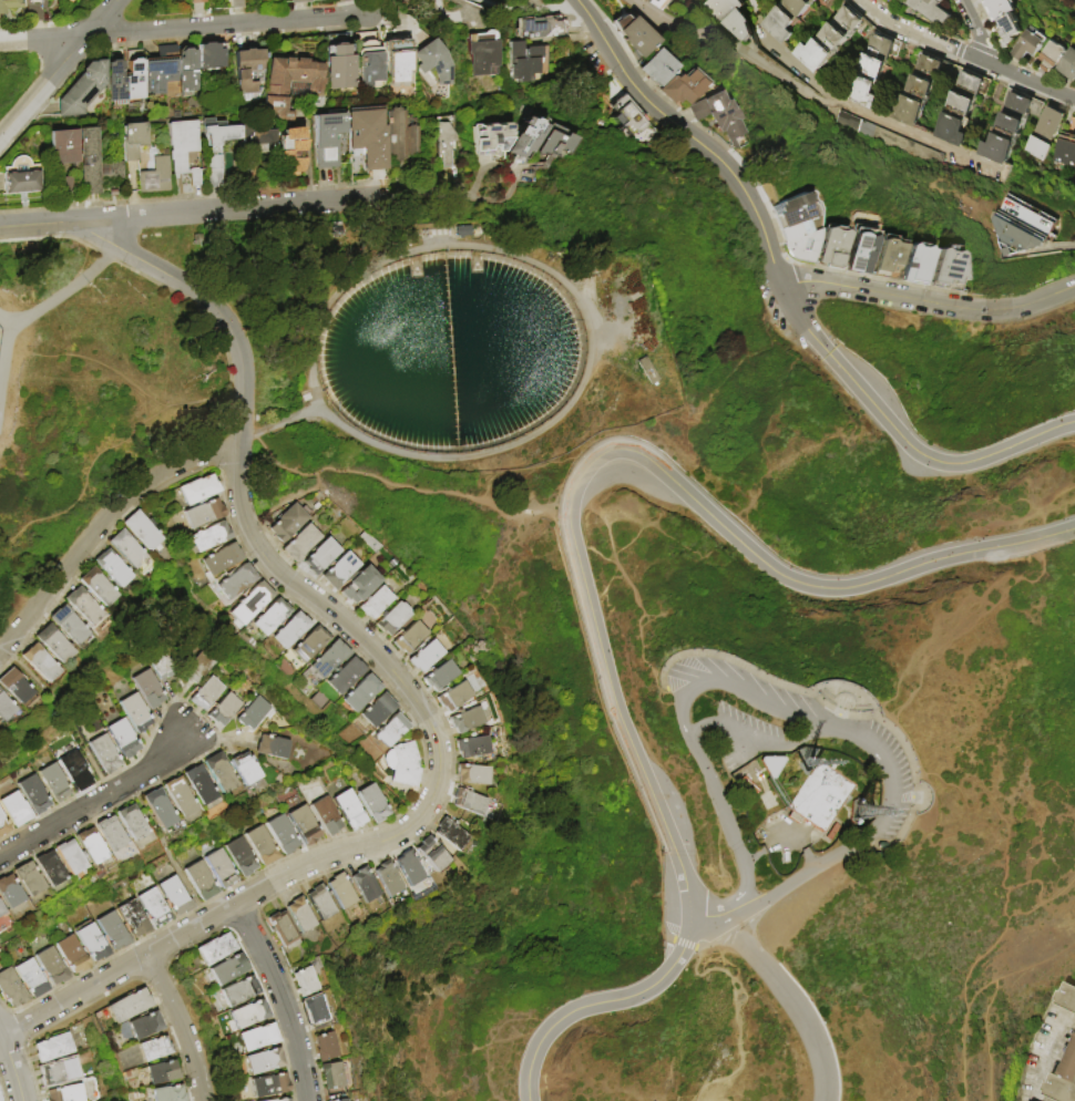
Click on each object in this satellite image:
building: (685, 0)
building: (198, 1)
building: (299, 1)
building: (822, 1)
building: (984, 1)
building: (33, 3)
building: (237, 3)
building: (662, 3)
building: (9, 6)
road: (579, 6)
building: (1001, 9)
building: (932, 10)
road: (530, 11)
road: (462, 12)
building: (735, 17)
road: (759, 18)
building: (788, 19)
road: (185, 29)
building: (543, 31)
building: (1011, 31)
road: (980, 32)
building: (832, 38)
building: (635, 39)
road: (924, 39)
building: (1030, 47)
building: (484, 55)
building: (212, 56)
building: (1053, 56)
road: (734, 58)
building: (369, 61)
building: (339, 63)
building: (398, 64)
building: (434, 64)
building: (531, 64)
building: (1069, 66)
road: (59, 69)
building: (187, 70)
building: (162, 71)
building: (248, 71)
building: (659, 71)
building: (134, 78)
building: (115, 79)
building: (870, 80)
road: (1032, 83)
building: (290, 84)
building: (83, 90)
building: (685, 91)
building: (920, 91)
building: (964, 110)
road: (876, 114)
building: (719, 117)
building: (1051, 124)
road: (3, 130)
building: (1010, 131)
road: (695, 138)
building: (887, 138)
building: (256, 140)
building: (368, 140)
building: (399, 140)
building: (133, 141)
building: (526, 141)
building: (492, 143)
building: (330, 144)
building: (444, 147)
building: (555, 147)
building: (1067, 147)
building: (184, 148)
building: (215, 148)
building: (1040, 150)
building: (293, 151)
building: (66, 160)
building: (94, 163)
building: (249, 174)
road: (511, 176)
building: (156, 177)
building: (21, 178)
road: (424, 195)
road: (219, 209)
building: (796, 220)
road: (28, 225)
building: (1023, 227)
road: (1061, 245)
building: (832, 250)
building: (861, 255)
building: (888, 260)
building: (917, 268)
building: (948, 274)
road: (187, 289)
road: (63, 290)
road: (929, 301)
road: (4, 350)
road: (91, 359)
road: (899, 434)
road: (1054, 439)
road: (109, 445)
road: (796, 455)
road: (391, 482)
building: (201, 490)
building: (205, 514)
road: (1010, 521)
building: (289, 523)
road: (99, 527)
building: (144, 529)
building: (211, 537)
building: (303, 544)
building: (129, 548)
building: (322, 556)
building: (223, 559)
park: (798, 559)
building: (114, 568)
building: (341, 570)
road: (784, 576)
building: (237, 583)
building: (361, 585)
building: (99, 587)
road: (632, 591)
building: (377, 603)
building: (253, 604)
building: (84, 607)
building: (272, 618)
building: (393, 619)
road: (967, 622)
building: (70, 625)
building: (291, 630)
building: (411, 638)
building: (54, 644)
building: (311, 645)
building: (428, 657)
building: (330, 659)
building: (162, 662)
building: (41, 663)
building: (201, 668)
building: (347, 676)
building: (442, 676)
building: (17, 688)
building: (151, 689)
road: (412, 691)
building: (208, 693)
building: (362, 693)
building: (457, 697)
building: (4, 708)
building: (226, 710)
building: (379, 710)
building: (136, 713)
road: (788, 713)
building: (255, 714)
road: (618, 717)
building: (469, 721)
road: (698, 723)
road: (608, 730)
building: (392, 731)
road: (813, 732)
road: (751, 735)
parking lot: (743, 737)
building: (124, 739)
building: (475, 747)
parking lot: (883, 747)
building: (274, 748)
building: (106, 754)
building: (405, 764)
building: (247, 769)
building: (76, 771)
building: (222, 773)
building: (475, 774)
building: (55, 783)
road: (107, 785)
building: (202, 785)
building: (35, 795)
building: (818, 796)
building: (182, 798)
building: (376, 803)
building: (471, 803)
road: (95, 804)
building: (161, 809)
building: (17, 810)
building: (351, 810)
building: (857, 810)
building: (328, 816)
building: (133, 822)
building: (3, 825)
building: (306, 825)
building: (112, 834)
building: (453, 834)
building: (285, 835)
road: (781, 844)
road: (1002, 844)
building: (92, 846)
building: (264, 846)
building: (434, 854)
building: (72, 857)
building: (243, 857)
building: (223, 868)
building: (411, 868)
building: (51, 870)
building: (29, 878)
building: (390, 878)
building: (202, 881)
building: (367, 885)
building: (10, 892)
building: (342, 892)
building: (176, 896)
building: (322, 903)
building: (155, 907)
building: (2, 910)
building: (301, 915)
road: (700, 916)
building: (134, 919)
building: (284, 928)
road: (188, 930)
building: (114, 932)
road: (719, 937)
building: (94, 943)
road: (686, 944)
building: (215, 949)
building: (73, 955)
building: (53, 967)
park: (693, 969)
building: (228, 970)
building: (33, 979)
building: (306, 982)
road: (963, 982)
building: (12, 989)
road: (976, 989)
road: (801, 990)
building: (239, 992)
road: (990, 995)
road: (788, 997)
building: (1067, 997)
road: (73, 998)
road: (279, 999)
road: (598, 1001)
building: (129, 1007)
building: (317, 1013)
building: (248, 1015)
road: (181, 1026)
building: (145, 1027)
road: (1, 1037)
building: (257, 1038)
building: (53, 1048)
building: (327, 1048)
building: (154, 1050)
building: (264, 1062)
road: (13, 1069)
building: (59, 1072)
building: (163, 1073)
building: (334, 1077)
building: (1064, 1082)
building: (269, 1085)
building: (65, 1093)
building: (168, 1094)
building: (0, 1100)
building: (280, 1100)
building: (286, 1100)
building: (345, 1100)

